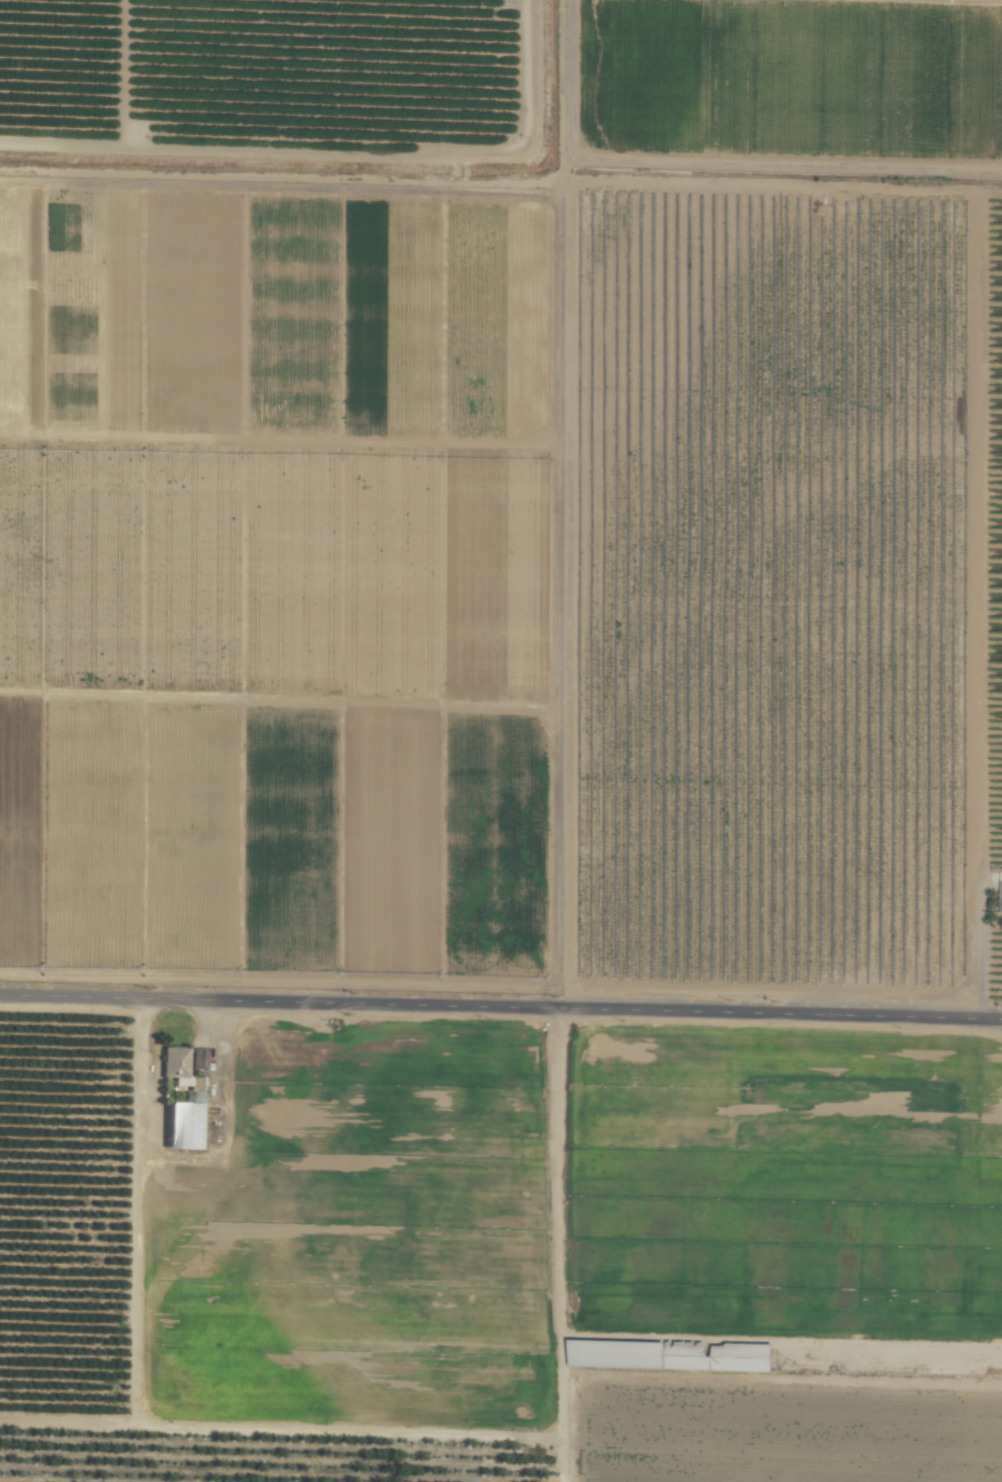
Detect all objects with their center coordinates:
crop: (501, 741)
building: (1001, 887)
road: (980, 949)
road: (501, 995)
road: (205, 1014)
building: (173, 1061)
road: (555, 1175)
building: (673, 1355)

